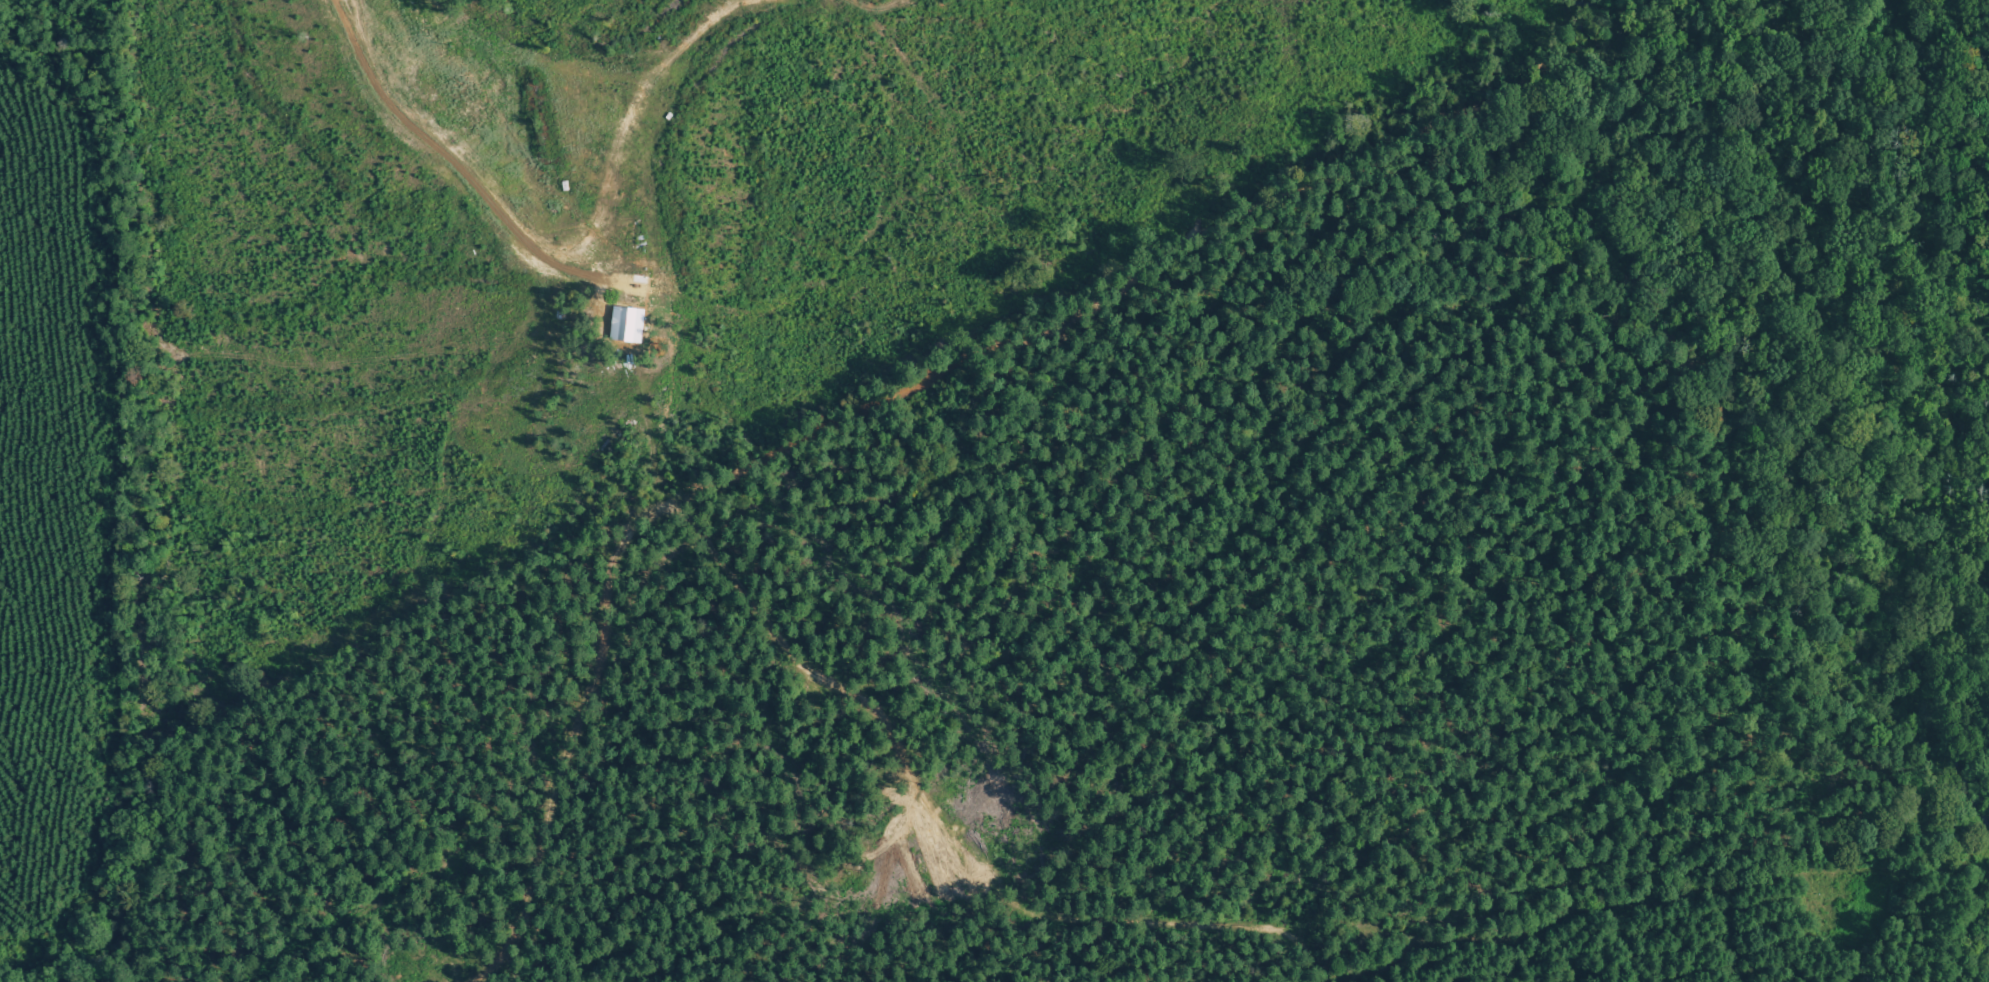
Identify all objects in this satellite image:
building: (627, 325)
road: (686, 473)

